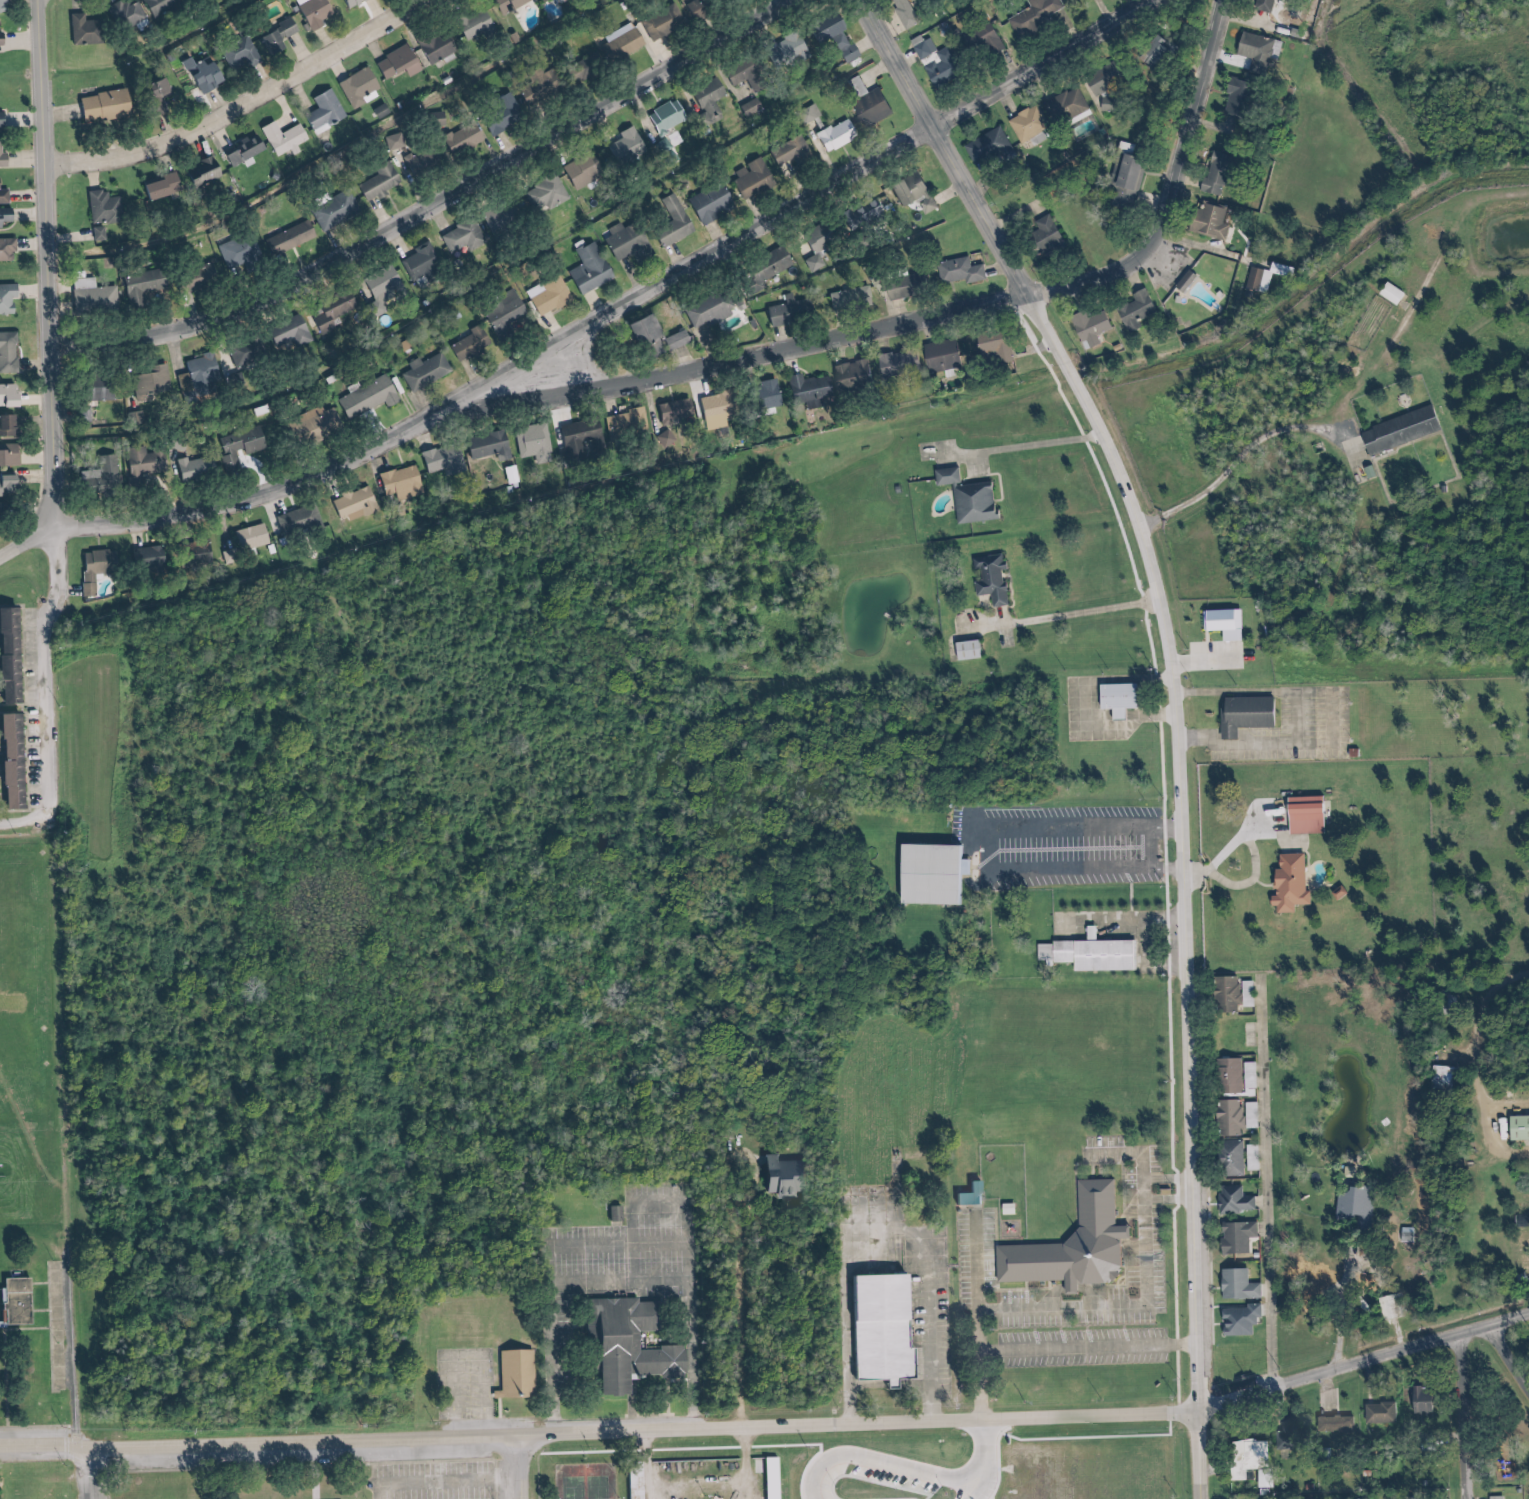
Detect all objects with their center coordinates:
building: (538, 0)
building: (346, 3)
building: (501, 4)
building: (1259, 5)
building: (5, 6)
building: (162, 6)
building: (690, 8)
building: (309, 11)
building: (901, 12)
building: (126, 14)
building: (1031, 15)
building: (658, 21)
building: (470, 24)
building: (819, 26)
building: (280, 27)
building: (94, 28)
building: (4, 38)
building: (266, 40)
building: (975, 40)
building: (617, 41)
building: (431, 46)
building: (839, 46)
building: (778, 49)
building: (1149, 50)
building: (1254, 50)
building: (235, 53)
building: (933, 61)
building: (393, 62)
building: (736, 70)
building: (572, 71)
building: (196, 74)
building: (1097, 79)
building: (533, 84)
building: (354, 87)
building: (152, 92)
building: (1232, 96)
building: (704, 100)
building: (864, 101)
building: (103, 104)
building: (746, 106)
building: (1064, 106)
road: (249, 107)
building: (321, 110)
building: (804, 112)
building: (498, 113)
building: (663, 116)
building: (432, 117)
building: (4, 119)
building: (1024, 123)
building: (831, 134)
building: (279, 137)
building: (457, 137)
building: (389, 140)
building: (622, 146)
road: (951, 146)
building: (986, 146)
building: (786, 150)
building: (238, 151)
building: (4, 155)
building: (415, 157)
building: (576, 169)
building: (198, 170)
building: (1211, 174)
building: (1121, 177)
building: (747, 178)
building: (374, 180)
building: (154, 186)
building: (907, 190)
building: (541, 193)
building: (6, 197)
building: (705, 202)
building: (100, 207)
road: (437, 207)
building: (330, 208)
building: (855, 215)
building: (7, 217)
building: (668, 221)
building: (1205, 221)
building: (94, 232)
building: (1042, 234)
building: (459, 235)
building: (285, 237)
building: (622, 241)
building: (815, 242)
building: (9, 249)
building: (235, 250)
building: (417, 260)
road: (53, 264)
building: (585, 268)
building: (759, 268)
building: (956, 270)
building: (191, 276)
building: (1262, 276)
building: (1181, 280)
building: (84, 282)
building: (136, 285)
building: (899, 285)
building: (379, 287)
building: (1388, 293)
building: (545, 294)
building: (10, 298)
building: (846, 298)
building: (95, 299)
road: (630, 307)
building: (706, 308)
building: (326, 309)
building: (1132, 309)
building: (783, 310)
building: (500, 311)
road: (954, 311)
building: (1086, 326)
building: (284, 331)
building: (641, 333)
building: (671, 339)
building: (465, 342)
building: (990, 348)
building: (242, 350)
building: (10, 353)
building: (937, 356)
building: (894, 361)
building: (421, 370)
building: (193, 372)
building: (848, 374)
building: (147, 380)
building: (803, 389)
building: (761, 394)
building: (19, 395)
building: (362, 397)
building: (708, 411)
building: (671, 412)
building: (132, 417)
building: (622, 420)
building: (308, 422)
building: (12, 426)
building: (1395, 430)
building: (577, 438)
building: (529, 442)
building: (484, 445)
building: (12, 454)
building: (438, 457)
building: (139, 461)
building: (186, 467)
building: (100, 472)
building: (943, 475)
building: (397, 483)
building: (11, 485)
building: (970, 502)
building: (350, 504)
building: (3, 512)
building: (295, 520)
building: (246, 536)
road: (32, 545)
building: (189, 553)
building: (146, 556)
building: (98, 560)
building: (987, 577)
building: (1218, 623)
building: (963, 649)
building: (16, 660)
road: (55, 673)
building: (1113, 698)
building: (1237, 712)
road: (1327, 719)
building: (20, 763)
building: (1301, 814)
road: (23, 822)
road: (1033, 824)
road: (1078, 847)
building: (944, 868)
road: (1192, 879)
building: (1285, 883)
road: (1142, 903)
road: (1154, 924)
building: (1086, 932)
building: (1104, 953)
building: (1243, 993)
building: (1222, 994)
road: (1487, 1068)
building: (1226, 1075)
building: (1246, 1075)
building: (1438, 1076)
building: (1232, 1116)
building: (1516, 1127)
building: (1227, 1158)
road: (1178, 1176)
building: (777, 1177)
road: (1276, 1188)
building: (965, 1195)
building: (1231, 1199)
road: (1180, 1201)
building: (1350, 1203)
building: (611, 1213)
building: (628, 1213)
building: (1520, 1218)
road: (644, 1224)
building: (1233, 1236)
building: (1084, 1241)
road: (569, 1244)
road: (987, 1261)
road: (624, 1282)
road: (1163, 1285)
building: (1234, 1285)
road: (837, 1289)
building: (30, 1300)
road: (1354, 1313)
building: (1236, 1320)
building: (872, 1323)
road: (920, 1329)
road: (1409, 1334)
road: (82, 1345)
building: (682, 1346)
road: (1514, 1347)
road: (1099, 1348)
building: (0, 1354)
road: (1367, 1361)
road: (478, 1363)
road: (991, 1364)
building: (531, 1373)
road: (565, 1392)
building: (1417, 1400)
park: (1497, 1409)
building: (1376, 1412)
road: (1488, 1414)
road: (512, 1415)
road: (1470, 1415)
building: (1331, 1423)
road: (603, 1431)
building: (1282, 1438)
road: (980, 1451)
building: (1243, 1457)
road: (878, 1460)
road: (533, 1467)
road: (325, 1469)
park: (373, 1472)
road: (102, 1473)
park: (597, 1478)
parking lot: (446, 1479)
building: (636, 1484)
road: (969, 1490)
building: (1494, 1497)

